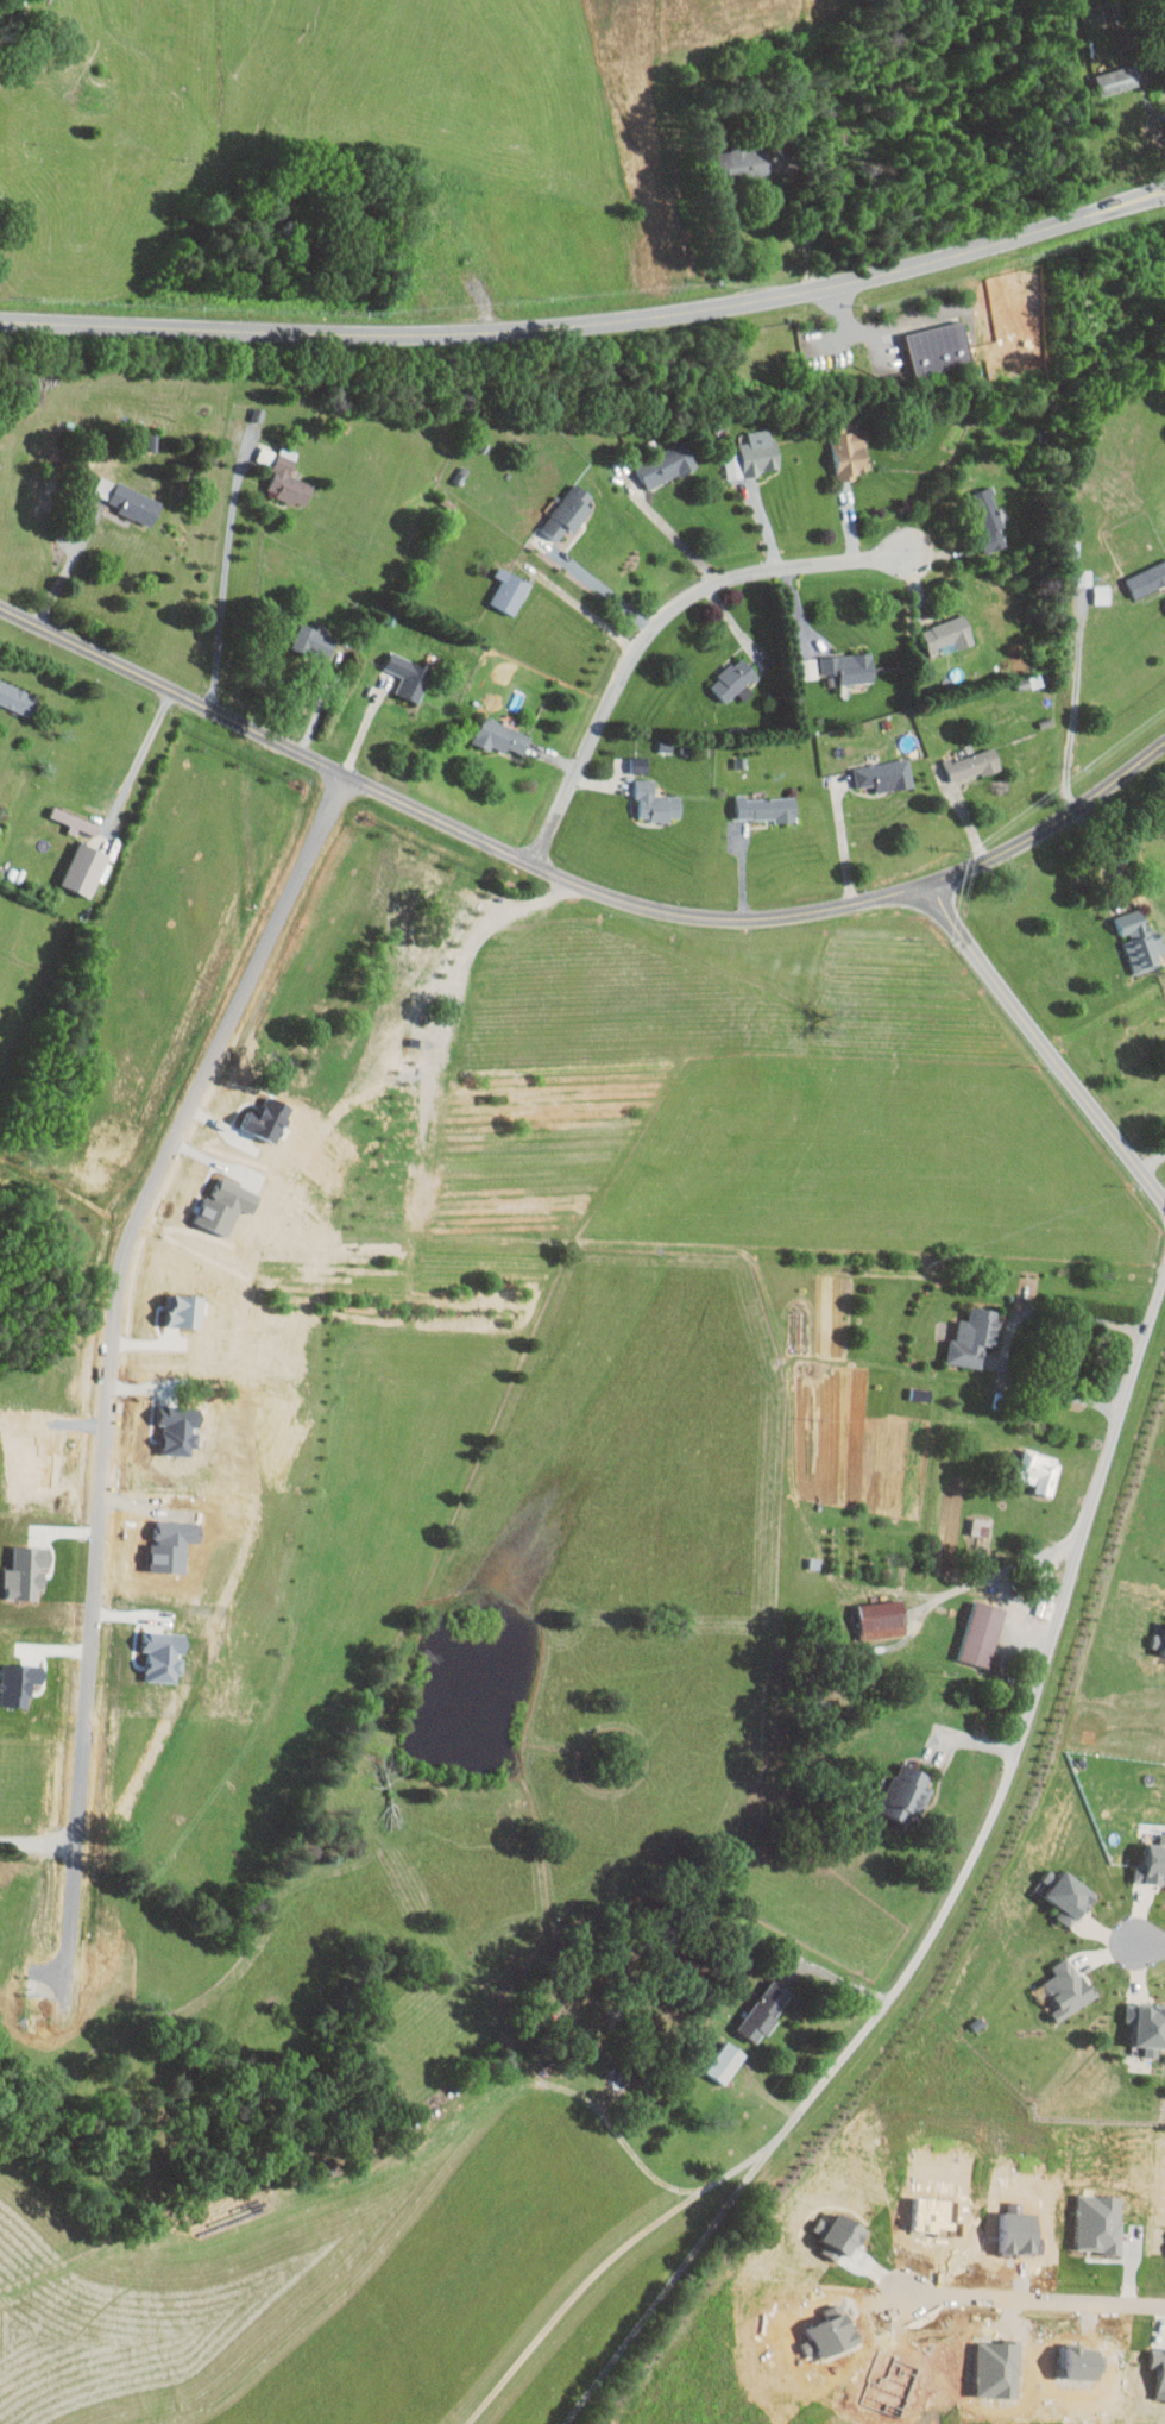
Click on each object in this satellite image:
building: (1117, 79)
building: (744, 159)
road: (590, 324)
building: (940, 348)
building: (850, 451)
building: (755, 456)
building: (667, 465)
building: (289, 478)
building: (130, 500)
building: (568, 510)
building: (989, 520)
road: (670, 530)
road: (69, 564)
road: (226, 572)
building: (1085, 577)
building: (1147, 579)
road: (603, 586)
building: (510, 590)
building: (1103, 594)
road: (655, 624)
building: (949, 635)
building: (314, 642)
building: (808, 668)
building: (848, 668)
building: (409, 676)
building: (735, 680)
building: (18, 698)
road: (1076, 707)
road: (364, 727)
building: (502, 735)
road: (138, 762)
building: (974, 764)
building: (641, 765)
building: (886, 775)
building: (656, 802)
building: (768, 808)
building: (77, 822)
road: (844, 840)
building: (86, 869)
road: (1114, 869)
road: (575, 881)
building: (1141, 941)
road: (1108, 1018)
road: (1045, 1041)
road: (1153, 1161)
road: (1009, 1336)
building: (974, 1338)
building: (162, 1367)
building: (921, 1394)
building: (1041, 1471)
building: (982, 1526)
road: (996, 1572)
road: (90, 1574)
road: (1018, 1609)
building: (883, 1620)
building: (982, 1634)
building: (1159, 1641)
building: (1164, 1654)
building: (906, 1791)
road: (36, 1846)
building: (1152, 1864)
building: (1066, 1895)
road: (952, 1896)
road: (1153, 1943)
road: (833, 1972)
building: (1068, 1987)
building: (766, 2009)
building: (1148, 2026)
building: (726, 2061)
road: (1031, 2297)

